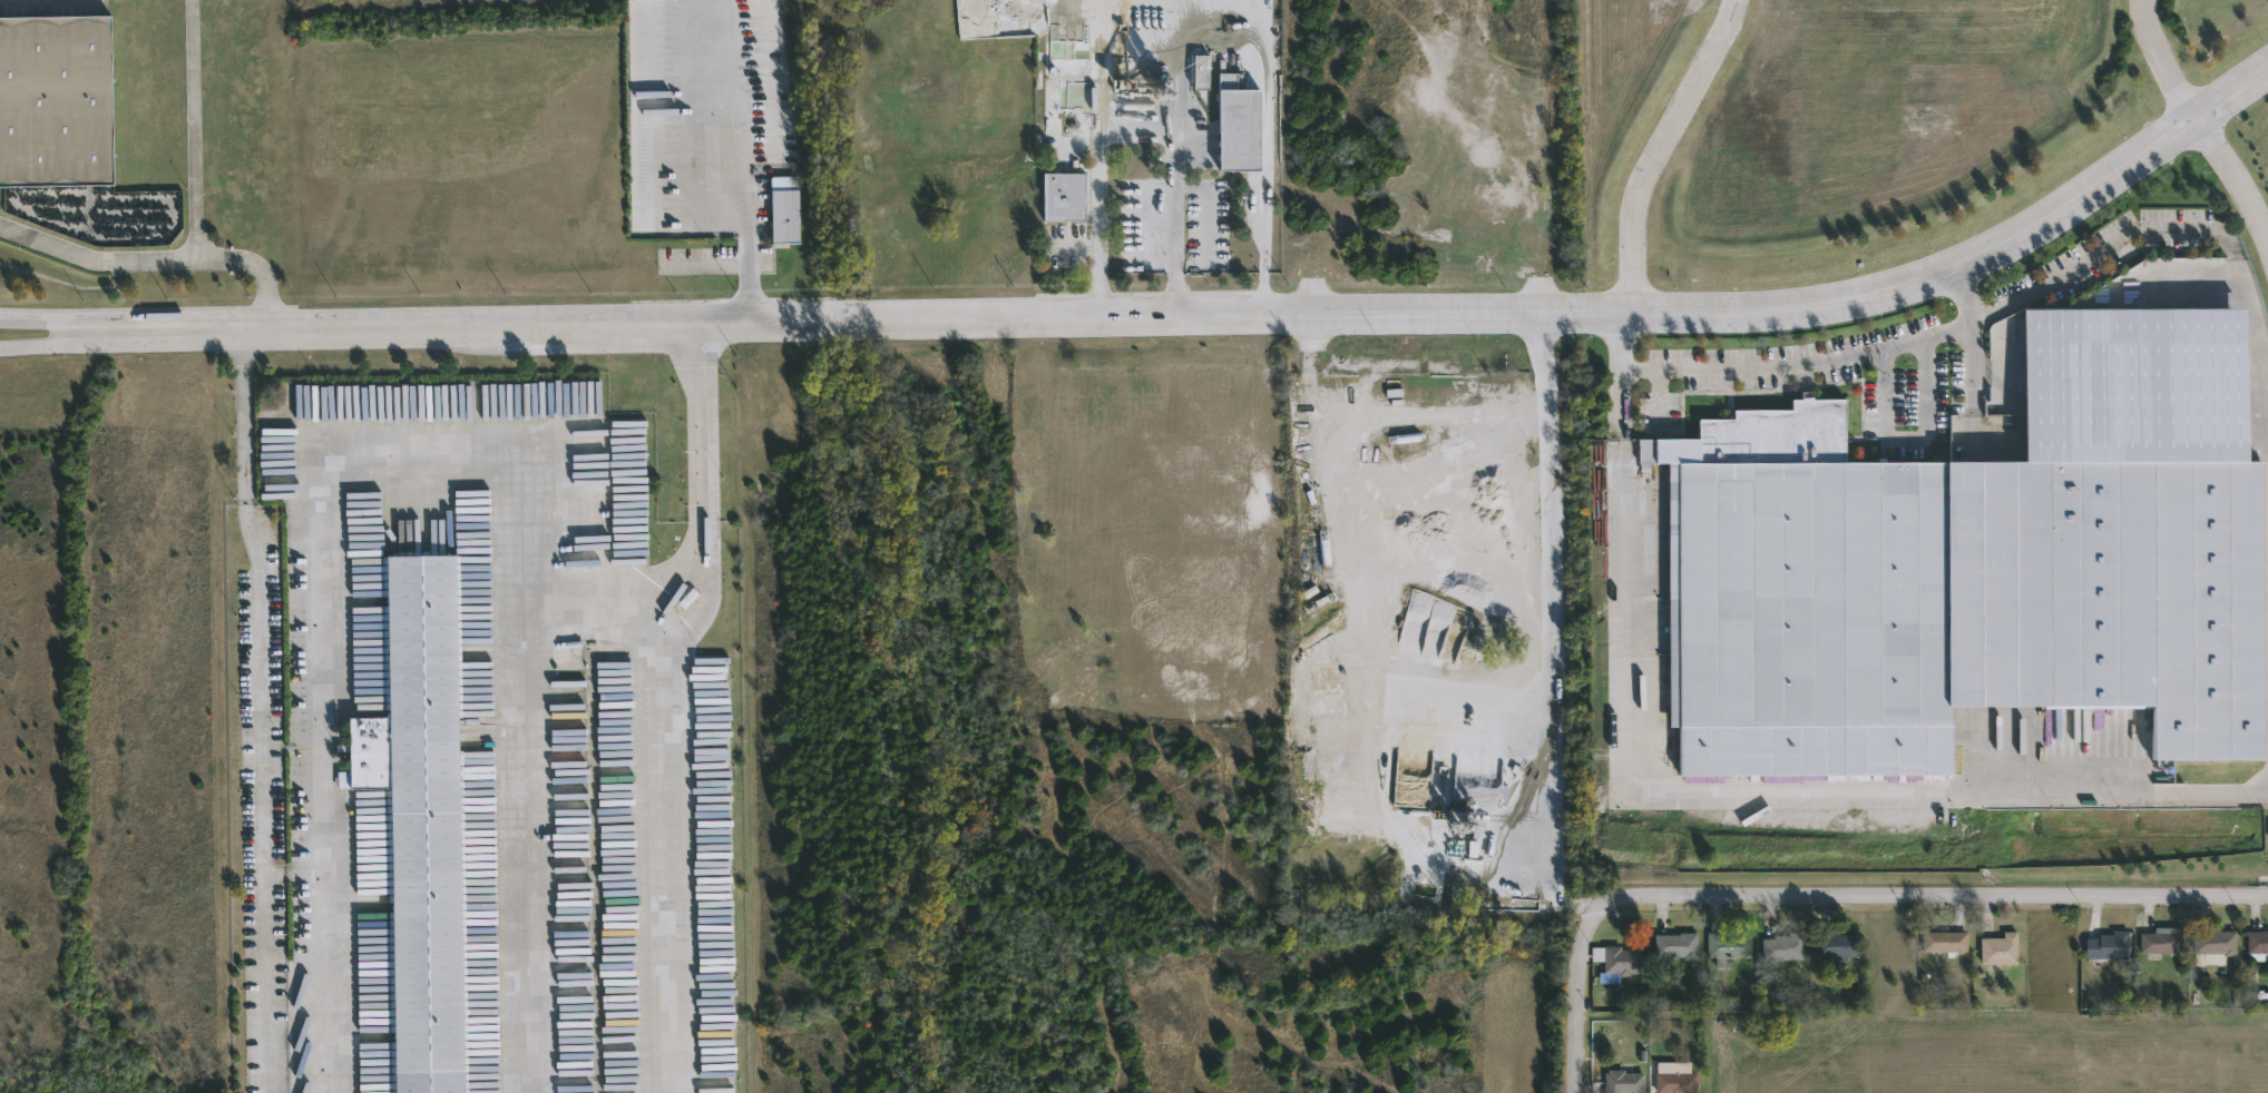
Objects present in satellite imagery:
road: (1220, 24)
road: (2163, 60)
building: (1201, 70)
building: (56, 99)
building: (1052, 104)
building: (1238, 124)
road: (193, 130)
road: (1651, 149)
road: (2231, 171)
road: (1097, 185)
building: (1065, 196)
road: (746, 206)
building: (785, 208)
road: (158, 262)
road: (704, 264)
road: (745, 278)
road: (1967, 299)
road: (1212, 315)
road: (45, 322)
road: (1927, 333)
road: (45, 342)
road: (1614, 373)
road: (1907, 434)
road: (423, 457)
road: (696, 539)
building: (1973, 569)
road: (260, 710)
road: (1772, 788)
building: (420, 818)
road: (662, 849)
road: (297, 873)
road: (1838, 894)
building: (2159, 938)
building: (1943, 939)
building: (2257, 939)
building: (2105, 941)
building: (2215, 941)
building: (1674, 942)
building: (1837, 943)
building: (1727, 944)
building: (1782, 944)
building: (1997, 947)
building: (1620, 957)
building: (1622, 1080)
building: (1674, 1080)

